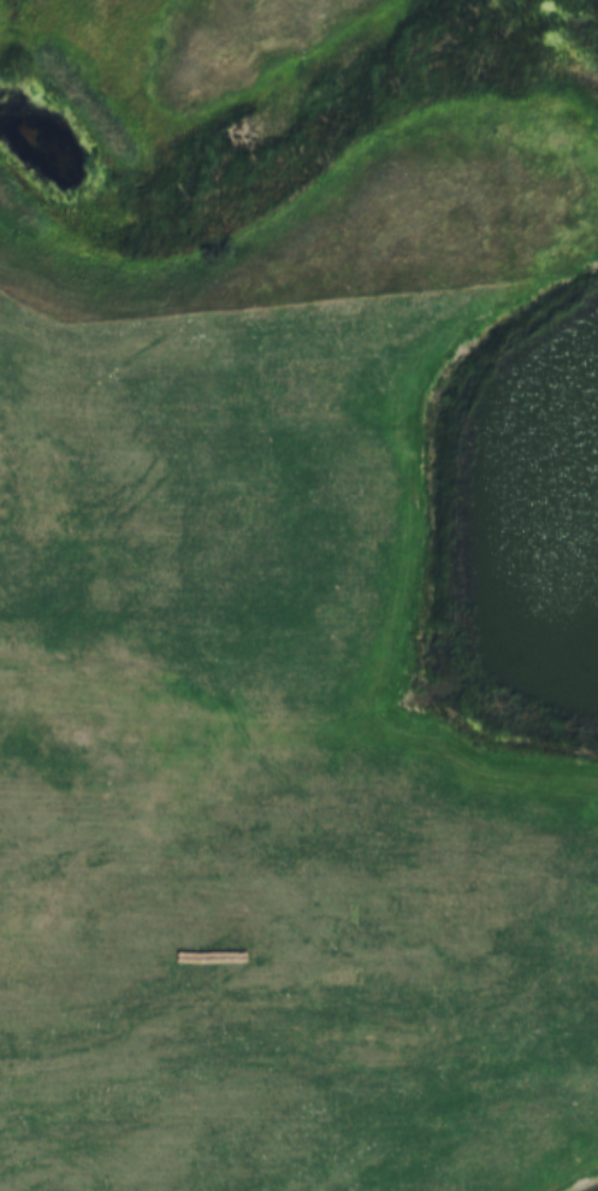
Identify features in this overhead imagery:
building: (349, 979)

